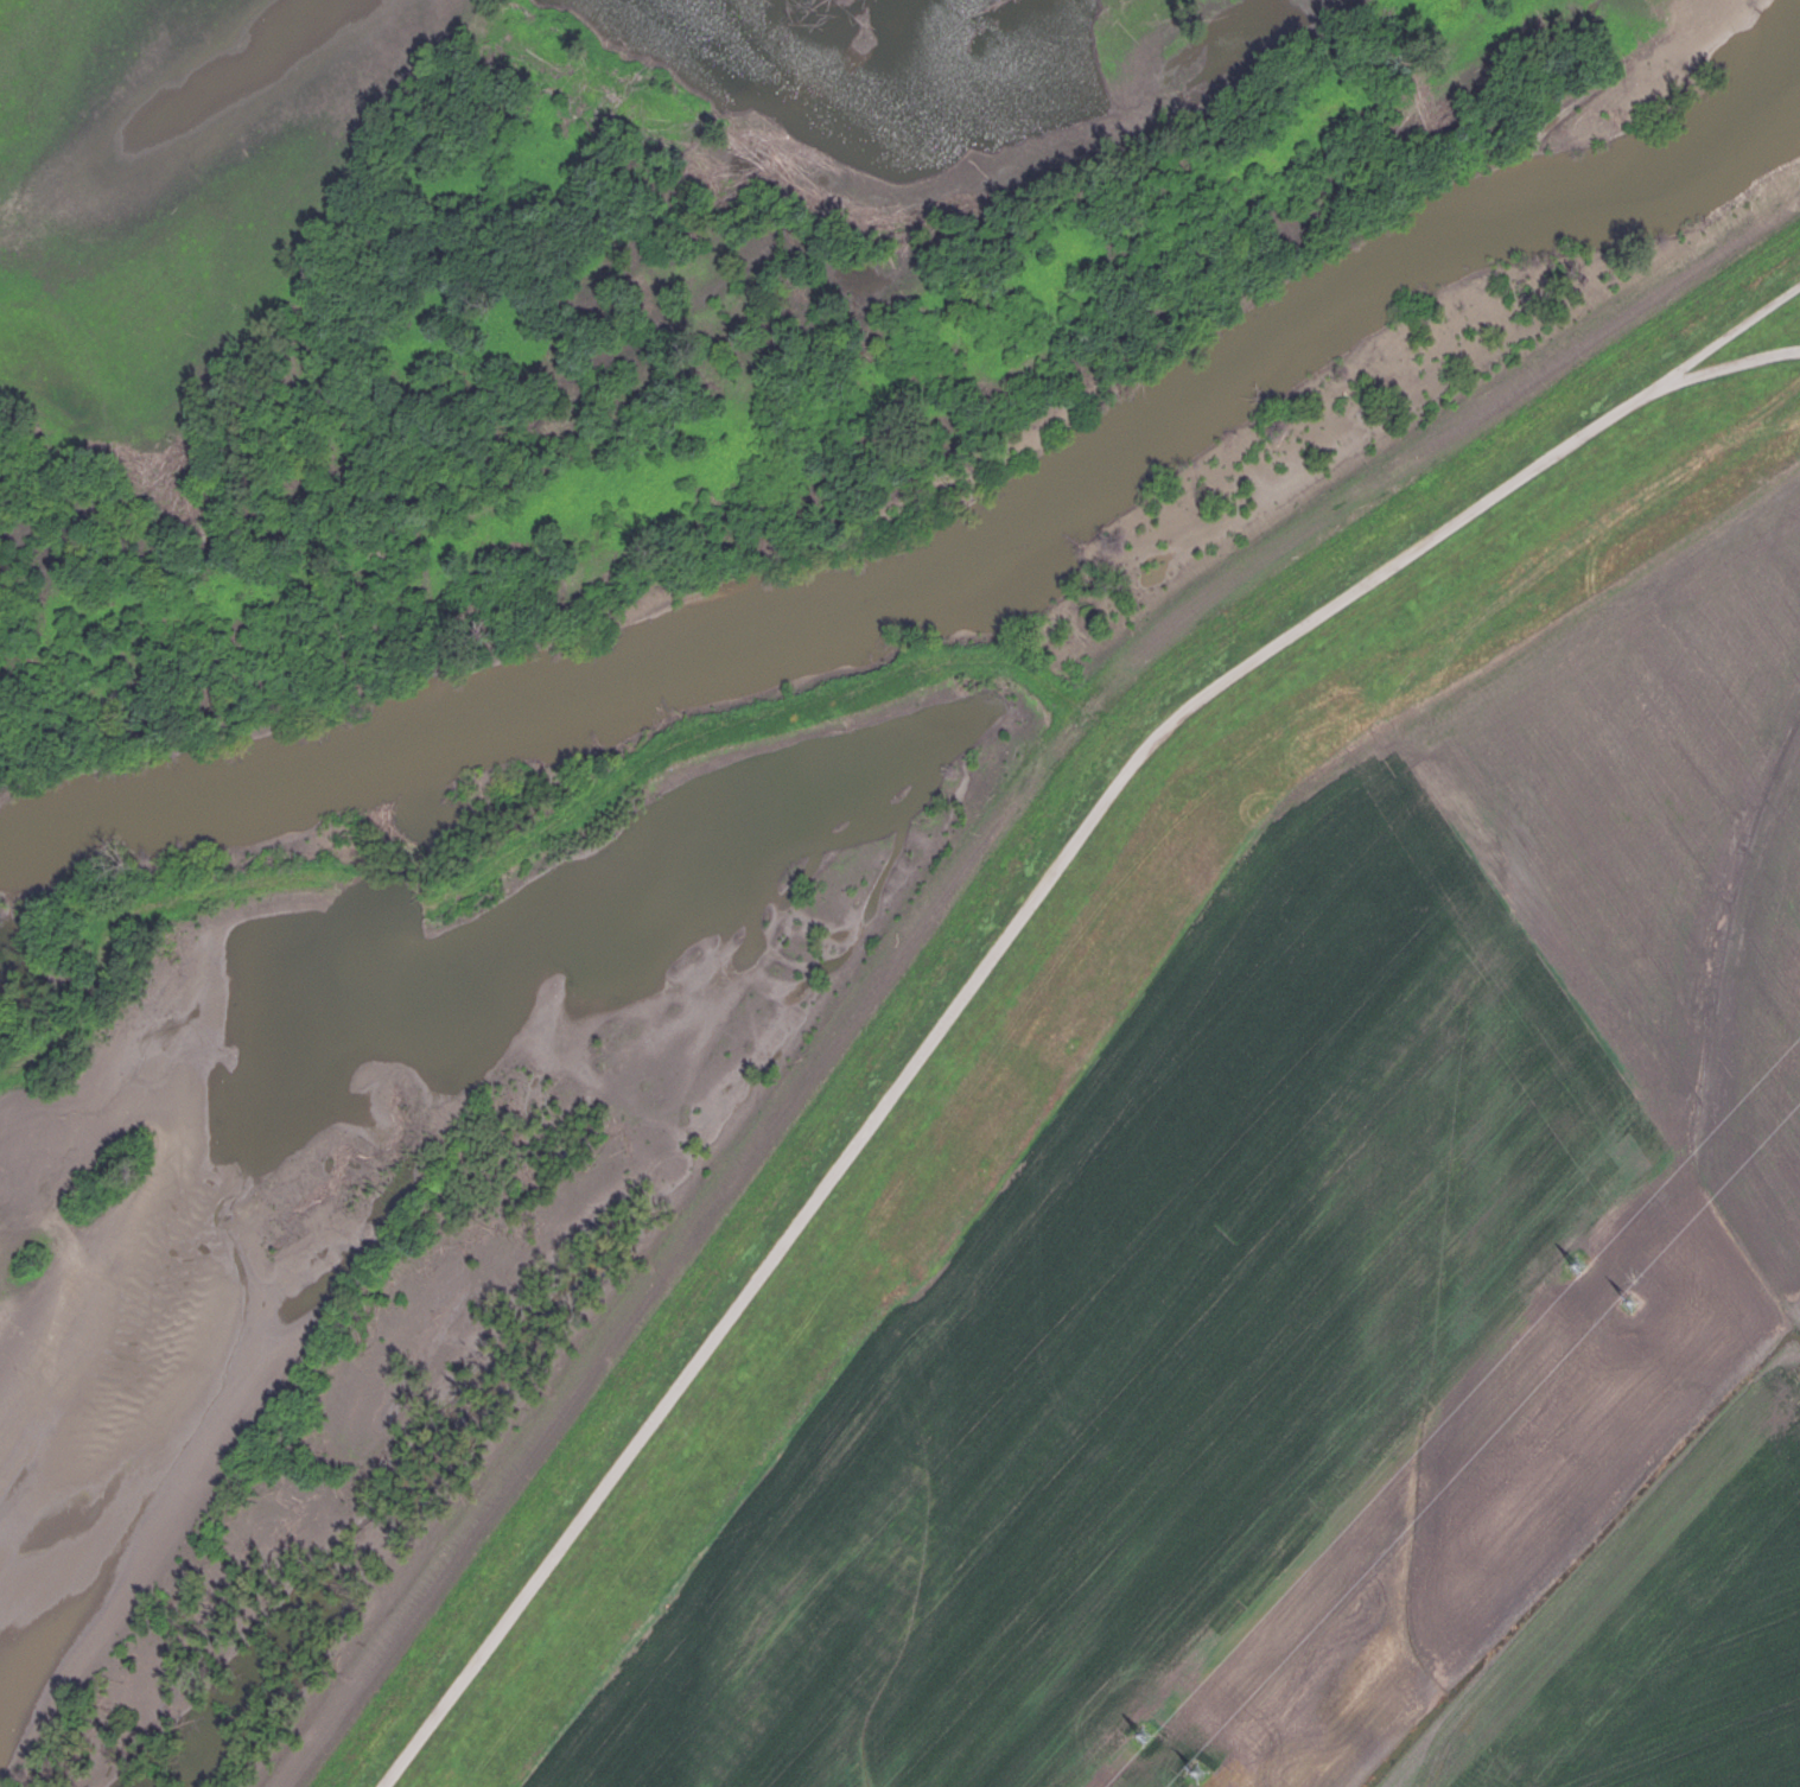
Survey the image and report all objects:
crop: (172, 183)
road: (1722, 338)
road: (997, 958)
power tower: (1579, 1263)
power tower: (1635, 1292)
crop: (1344, 1293)
crop: (87, 1384)
power tower: (1143, 1743)
power tower: (1198, 1780)

